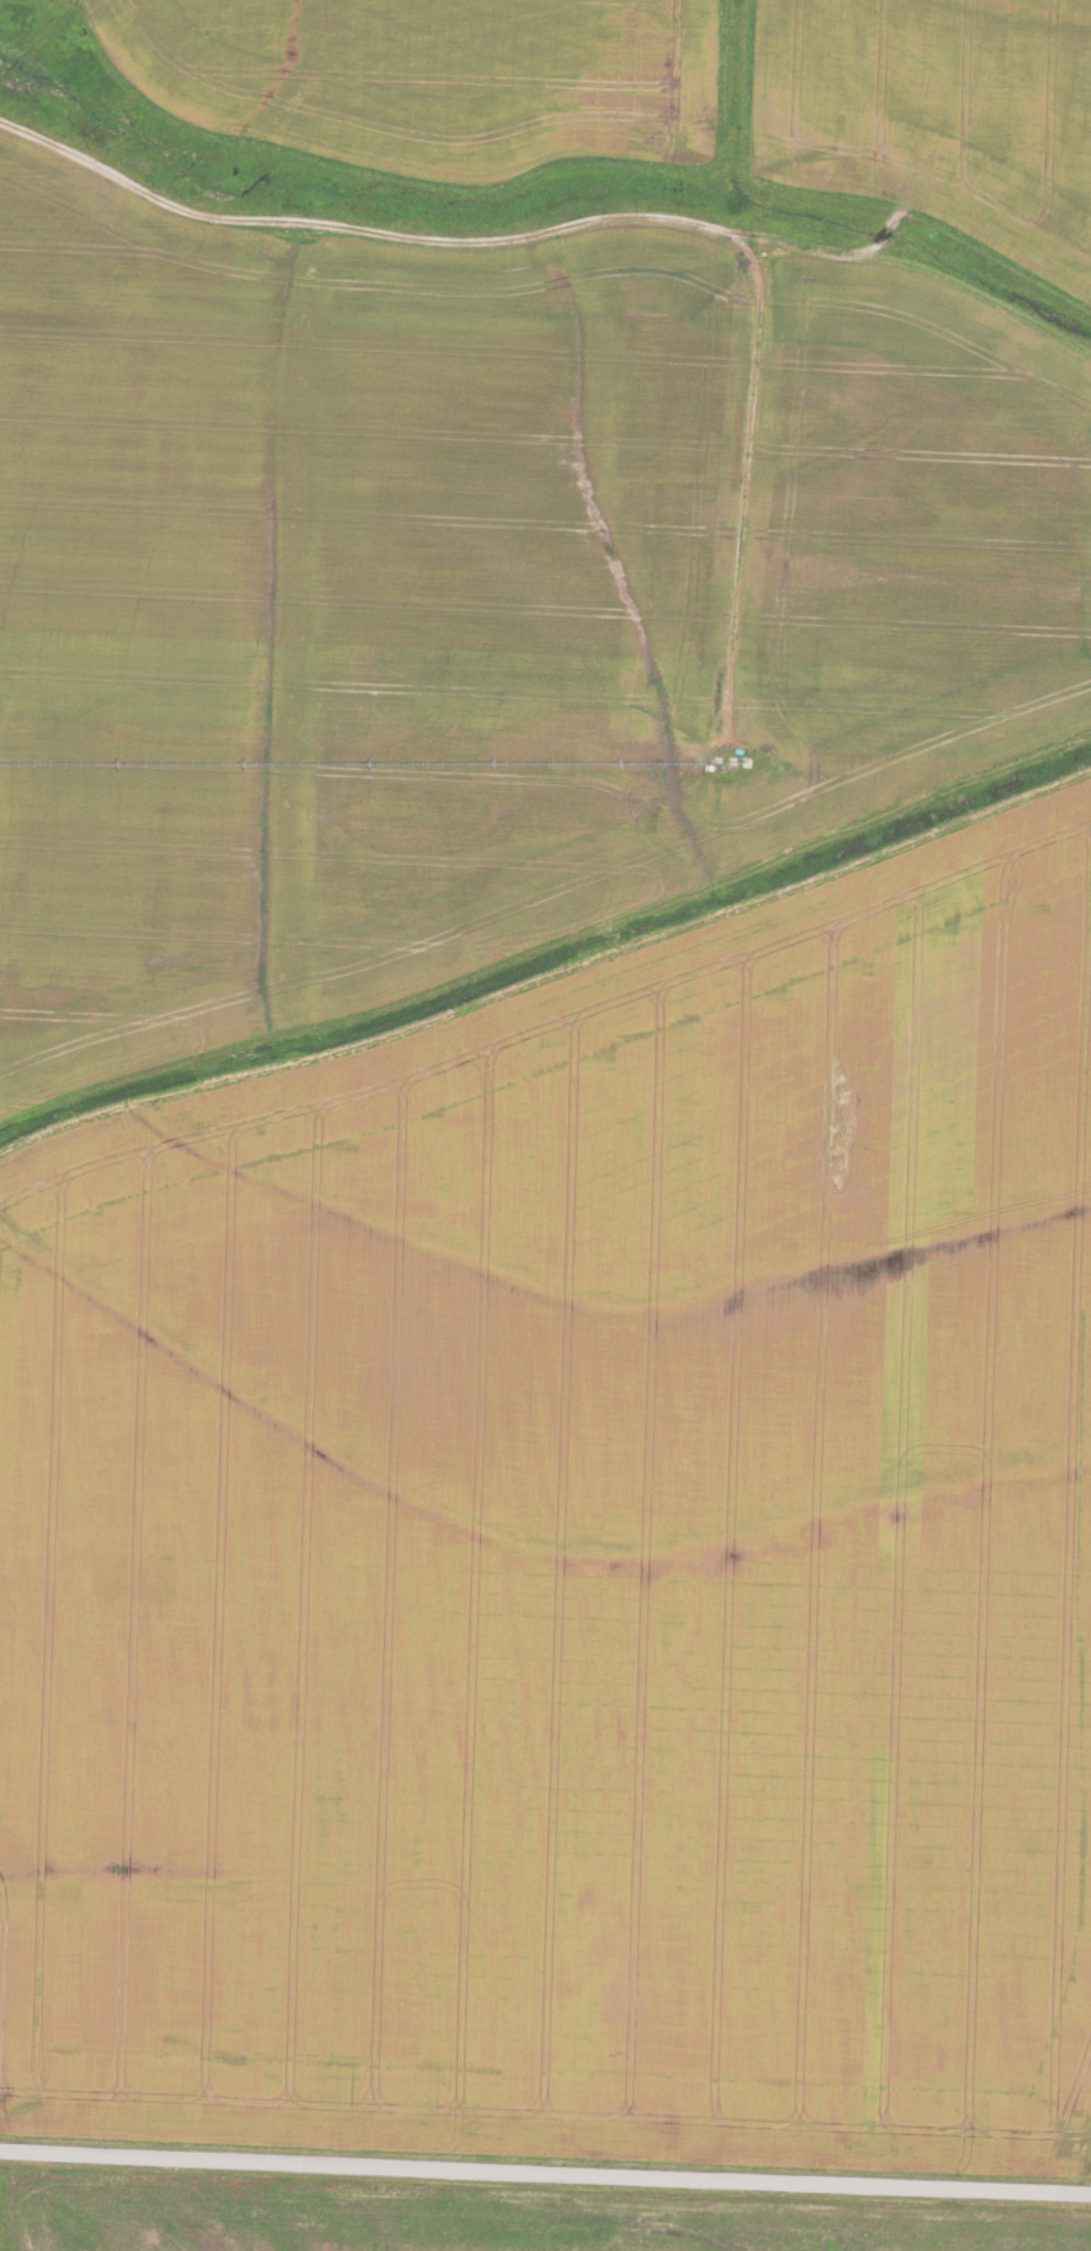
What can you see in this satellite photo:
road: (613, 217)
road: (545, 2169)

